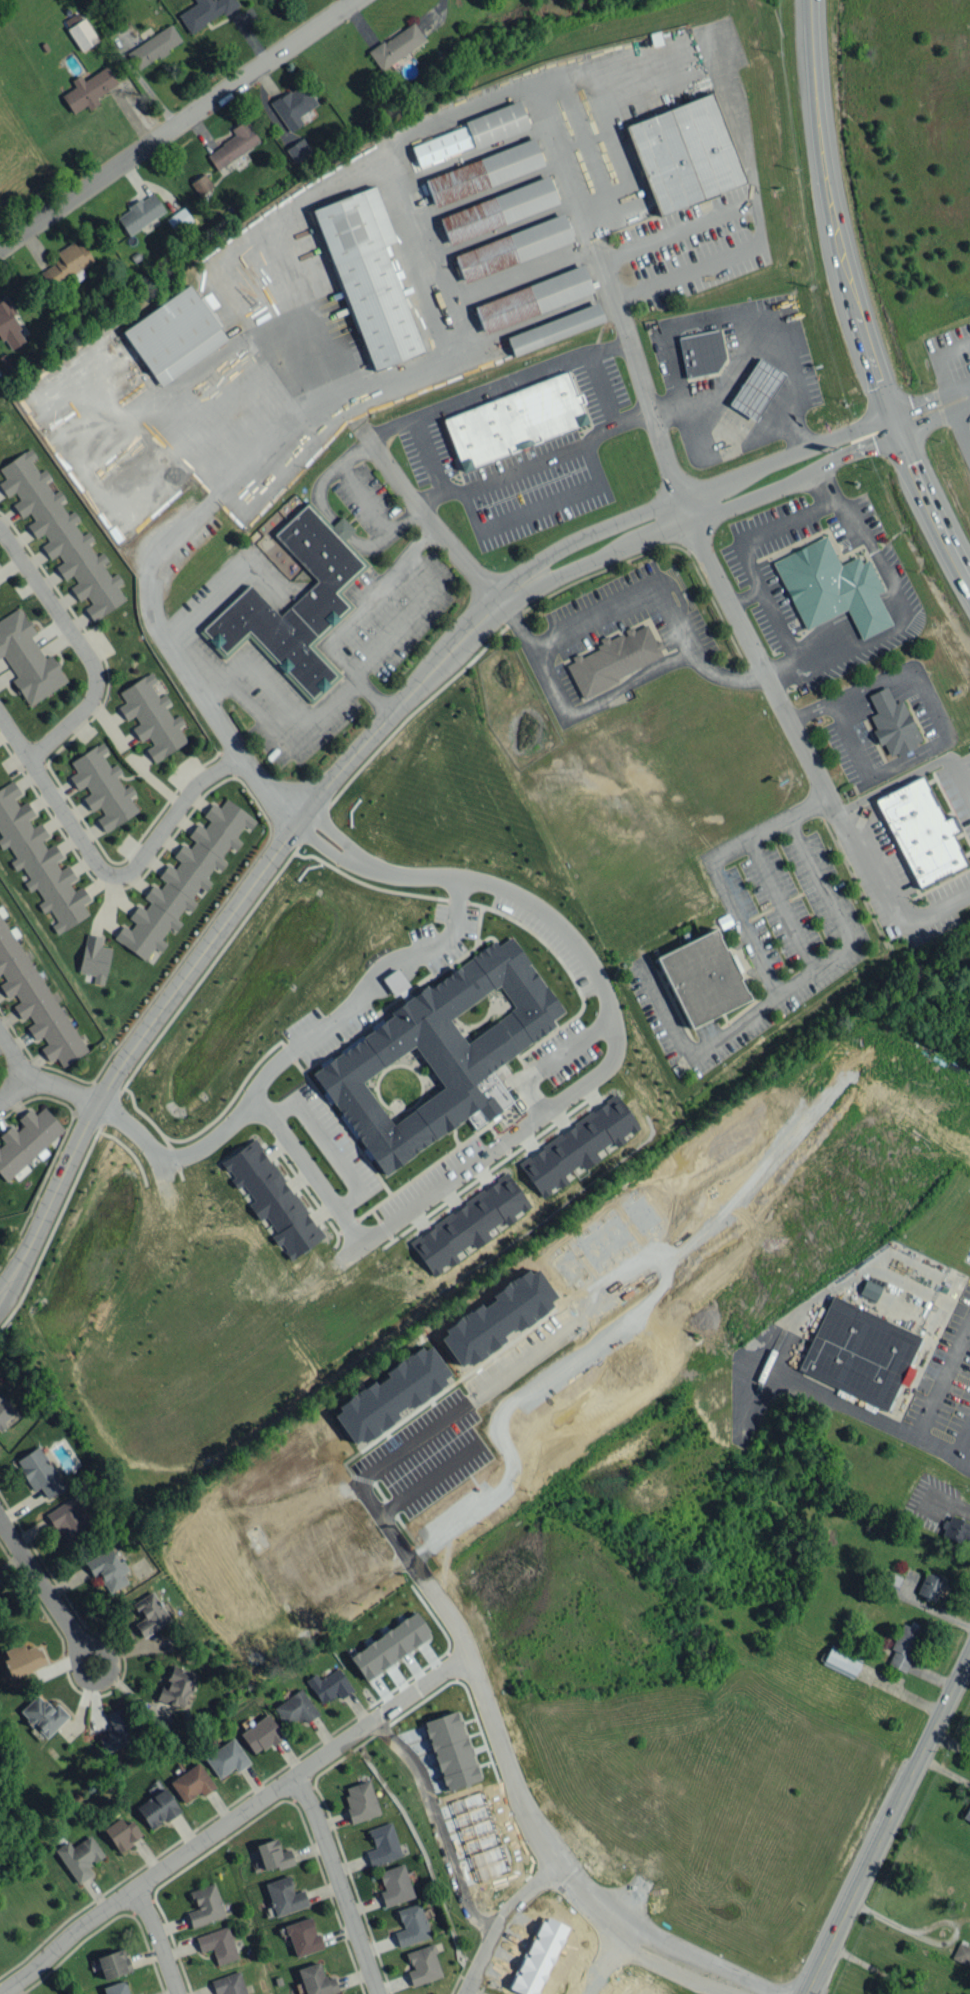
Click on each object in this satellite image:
building: (204, 12)
building: (82, 34)
building: (396, 45)
building: (153, 46)
building: (88, 89)
building: (293, 105)
road: (179, 125)
building: (473, 133)
building: (233, 144)
building: (298, 150)
building: (685, 153)
building: (484, 171)
building: (201, 183)
building: (498, 209)
building: (140, 213)
road: (756, 218)
building: (178, 219)
building: (513, 247)
road: (903, 253)
building: (66, 263)
building: (368, 275)
building: (533, 298)
road: (853, 299)
road: (737, 312)
building: (9, 325)
building: (555, 328)
building: (174, 334)
building: (701, 353)
road: (936, 361)
road: (731, 372)
road: (637, 381)
building: (756, 388)
road: (459, 402)
road: (932, 407)
building: (515, 420)
road: (959, 427)
road: (719, 445)
road: (428, 454)
road: (329, 475)
road: (473, 479)
road: (686, 494)
road: (539, 508)
road: (698, 514)
road: (341, 528)
road: (773, 530)
building: (59, 533)
road: (387, 533)
road: (162, 563)
road: (225, 584)
building: (832, 587)
road: (638, 596)
road: (409, 613)
road: (349, 617)
road: (785, 636)
road: (81, 647)
building: (27, 658)
building: (613, 658)
road: (764, 668)
road: (599, 700)
building: (151, 717)
building: (892, 722)
road: (280, 732)
road: (15, 735)
road: (912, 773)
road: (272, 785)
building: (102, 786)
building: (921, 832)
building: (39, 861)
road: (132, 869)
building: (183, 879)
road: (887, 907)
road: (220, 923)
building: (94, 958)
road: (772, 973)
building: (702, 977)
road: (370, 997)
building: (35, 1000)
road: (582, 1042)
road: (694, 1050)
building: (438, 1053)
road: (14, 1055)
road: (62, 1089)
road: (15, 1090)
road: (538, 1096)
road: (527, 1130)
building: (26, 1141)
building: (576, 1146)
road: (332, 1147)
building: (271, 1198)
building: (468, 1224)
road: (1, 1288)
road: (1, 1290)
building: (870, 1290)
building: (497, 1316)
building: (858, 1352)
building: (391, 1394)
building: (5, 1410)
road: (413, 1441)
building: (39, 1472)
road: (429, 1484)
building: (70, 1520)
building: (957, 1530)
building: (108, 1569)
building: (930, 1585)
road: (56, 1606)
building: (150, 1614)
building: (390, 1645)
road: (99, 1646)
building: (903, 1647)
building: (23, 1659)
building: (841, 1661)
building: (329, 1685)
building: (176, 1687)
building: (295, 1708)
building: (43, 1715)
building: (116, 1731)
building: (261, 1734)
building: (454, 1751)
building: (226, 1758)
road: (510, 1766)
building: (192, 1782)
building: (357, 1801)
building: (157, 1808)
building: (967, 1813)
road: (233, 1820)
road: (890, 1826)
road: (438, 1827)
building: (121, 1833)
building: (483, 1836)
building: (379, 1843)
building: (273, 1855)
building: (79, 1857)
building: (392, 1883)
road: (339, 1885)
building: (285, 1896)
building: (205, 1905)
road: (504, 1921)
building: (408, 1924)
building: (303, 1936)
road: (160, 1939)
building: (218, 1944)
building: (961, 1953)
building: (543, 1957)
road: (700, 1958)
building: (113, 1963)
building: (420, 1963)
road: (605, 1966)
road: (670, 1971)
building: (316, 1980)
building: (229, 1984)
building: (116, 1988)

